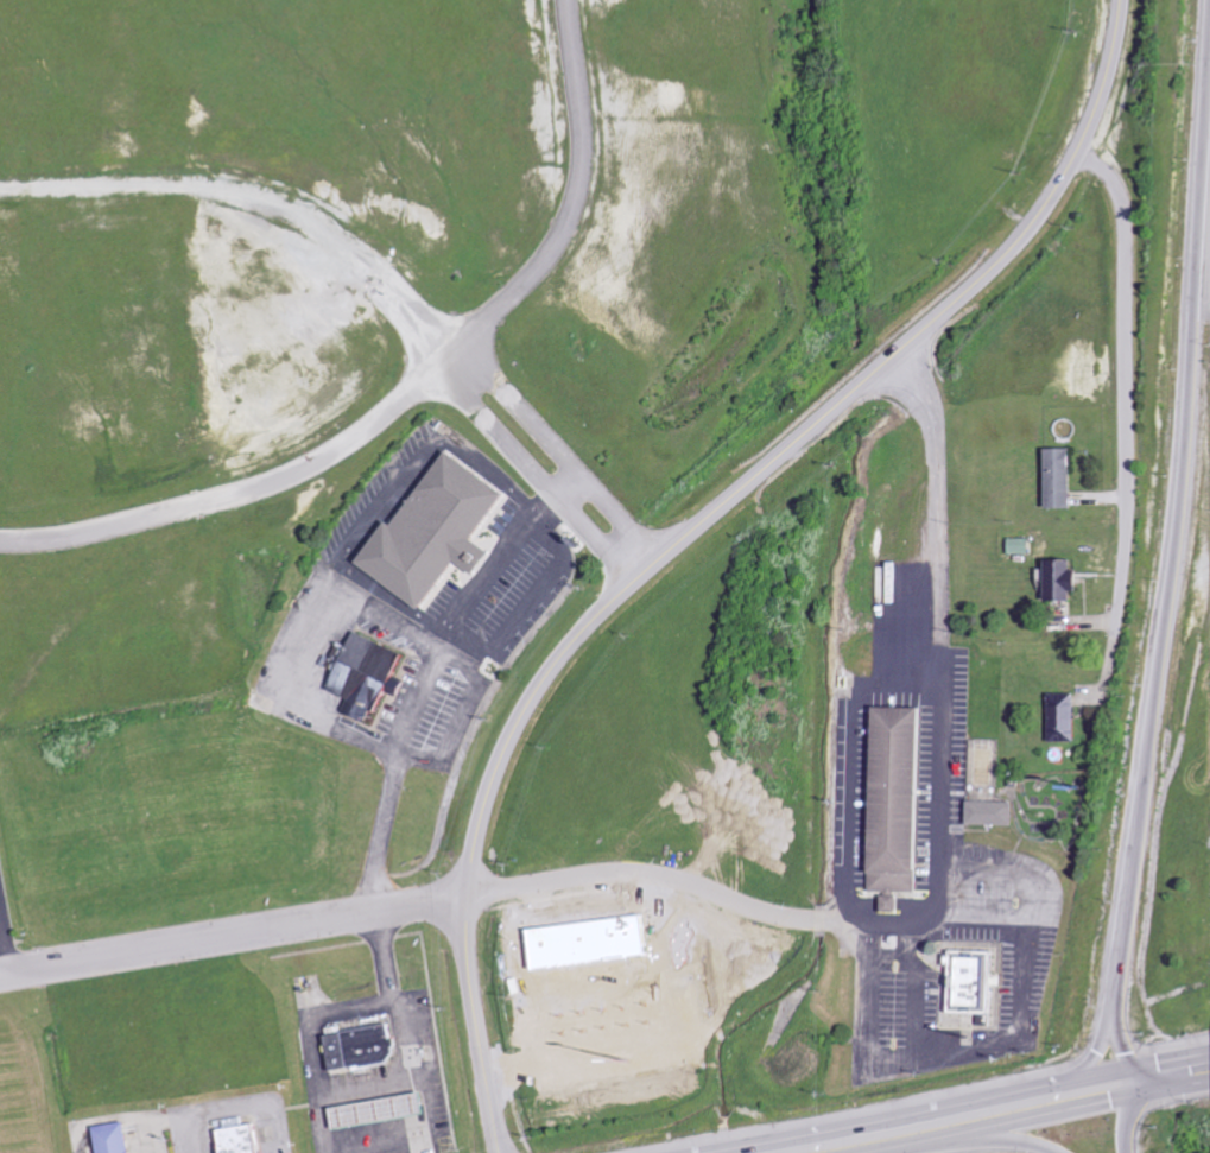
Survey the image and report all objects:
road: (1104, 78)
road: (261, 194)
road: (565, 203)
road: (1128, 403)
road: (360, 426)
building: (1054, 479)
road: (728, 500)
building: (439, 532)
road: (1172, 553)
building: (1054, 579)
road: (939, 632)
building: (369, 677)
road: (426, 680)
building: (1057, 718)
building: (893, 799)
building: (984, 813)
road: (480, 895)
road: (5, 940)
building: (562, 958)
building: (964, 981)
road: (476, 1026)
building: (354, 1046)
road: (1100, 1051)
road: (1168, 1066)
road: (1173, 1095)
road: (925, 1113)
road: (1129, 1127)
road: (997, 1128)
building: (106, 1138)
building: (233, 1139)
road: (995, 1141)

